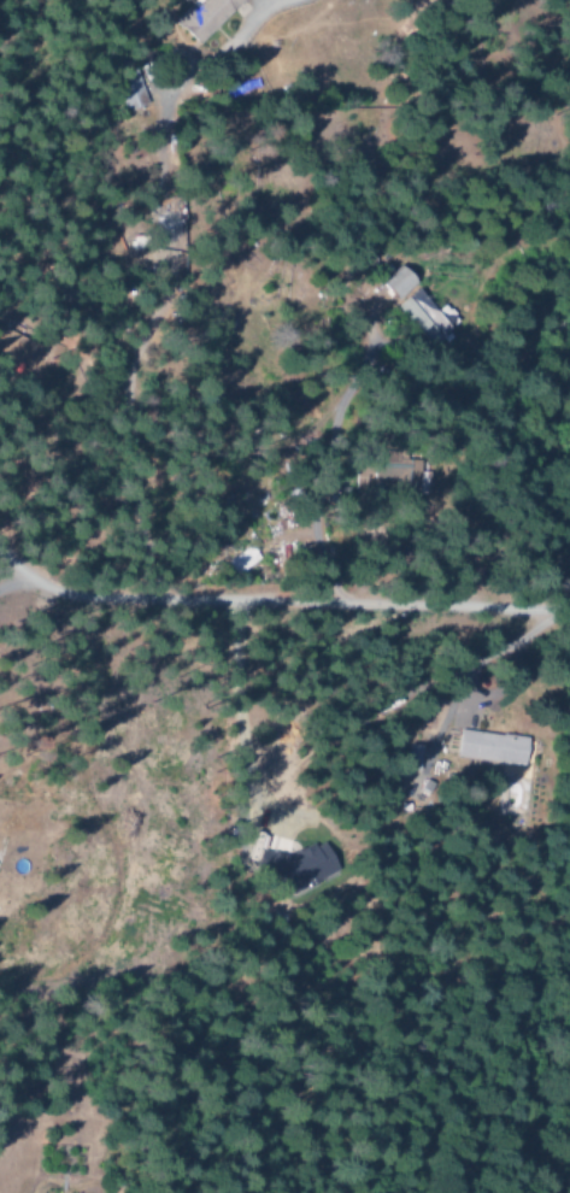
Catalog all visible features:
building: (199, 17)
building: (127, 90)
building: (166, 225)
building: (393, 286)
building: (423, 318)
building: (12, 349)
building: (219, 521)
building: (237, 562)
road: (278, 601)
building: (487, 748)

